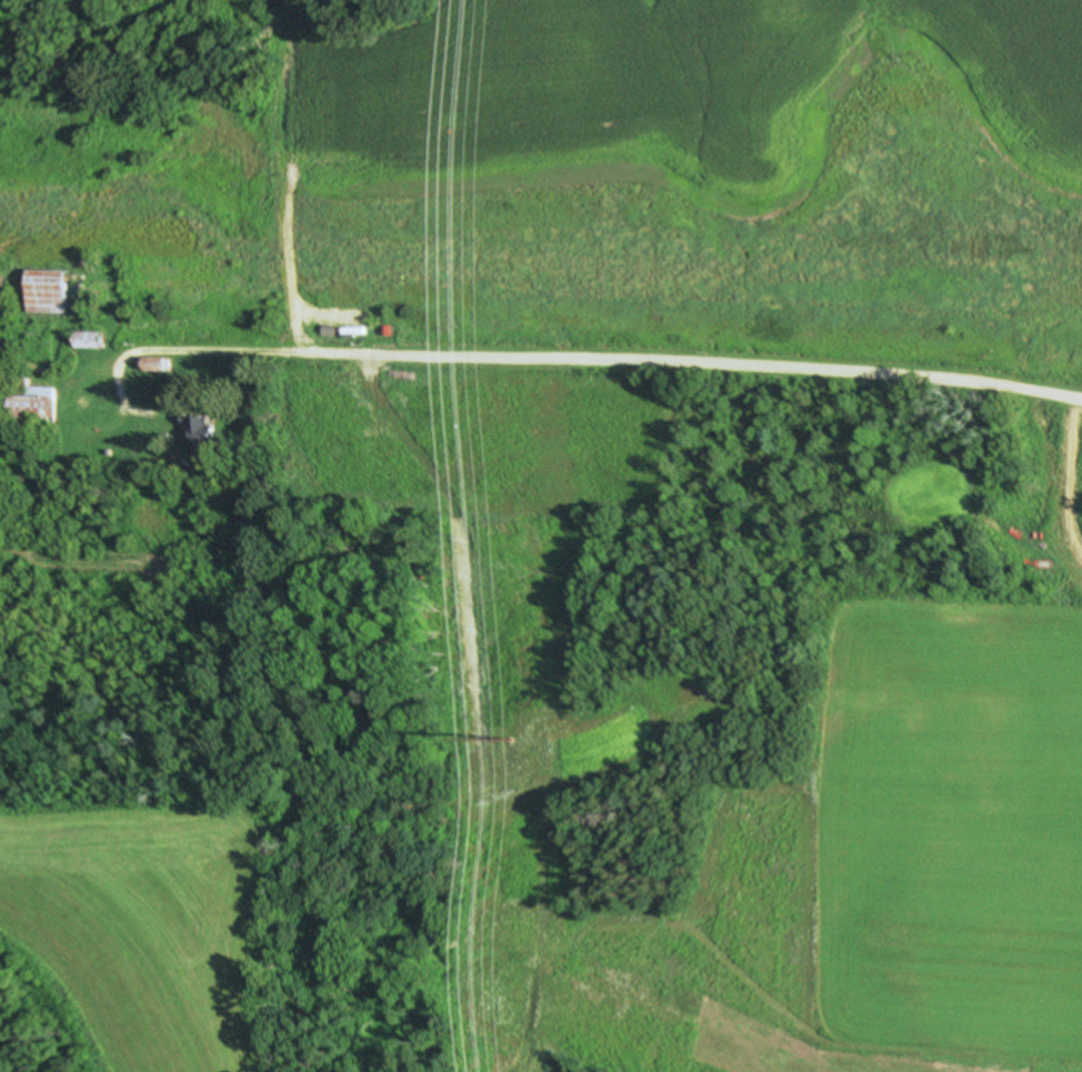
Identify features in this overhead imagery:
building: (42, 290)
road: (570, 352)
building: (31, 405)
building: (201, 430)
power tower: (510, 739)

